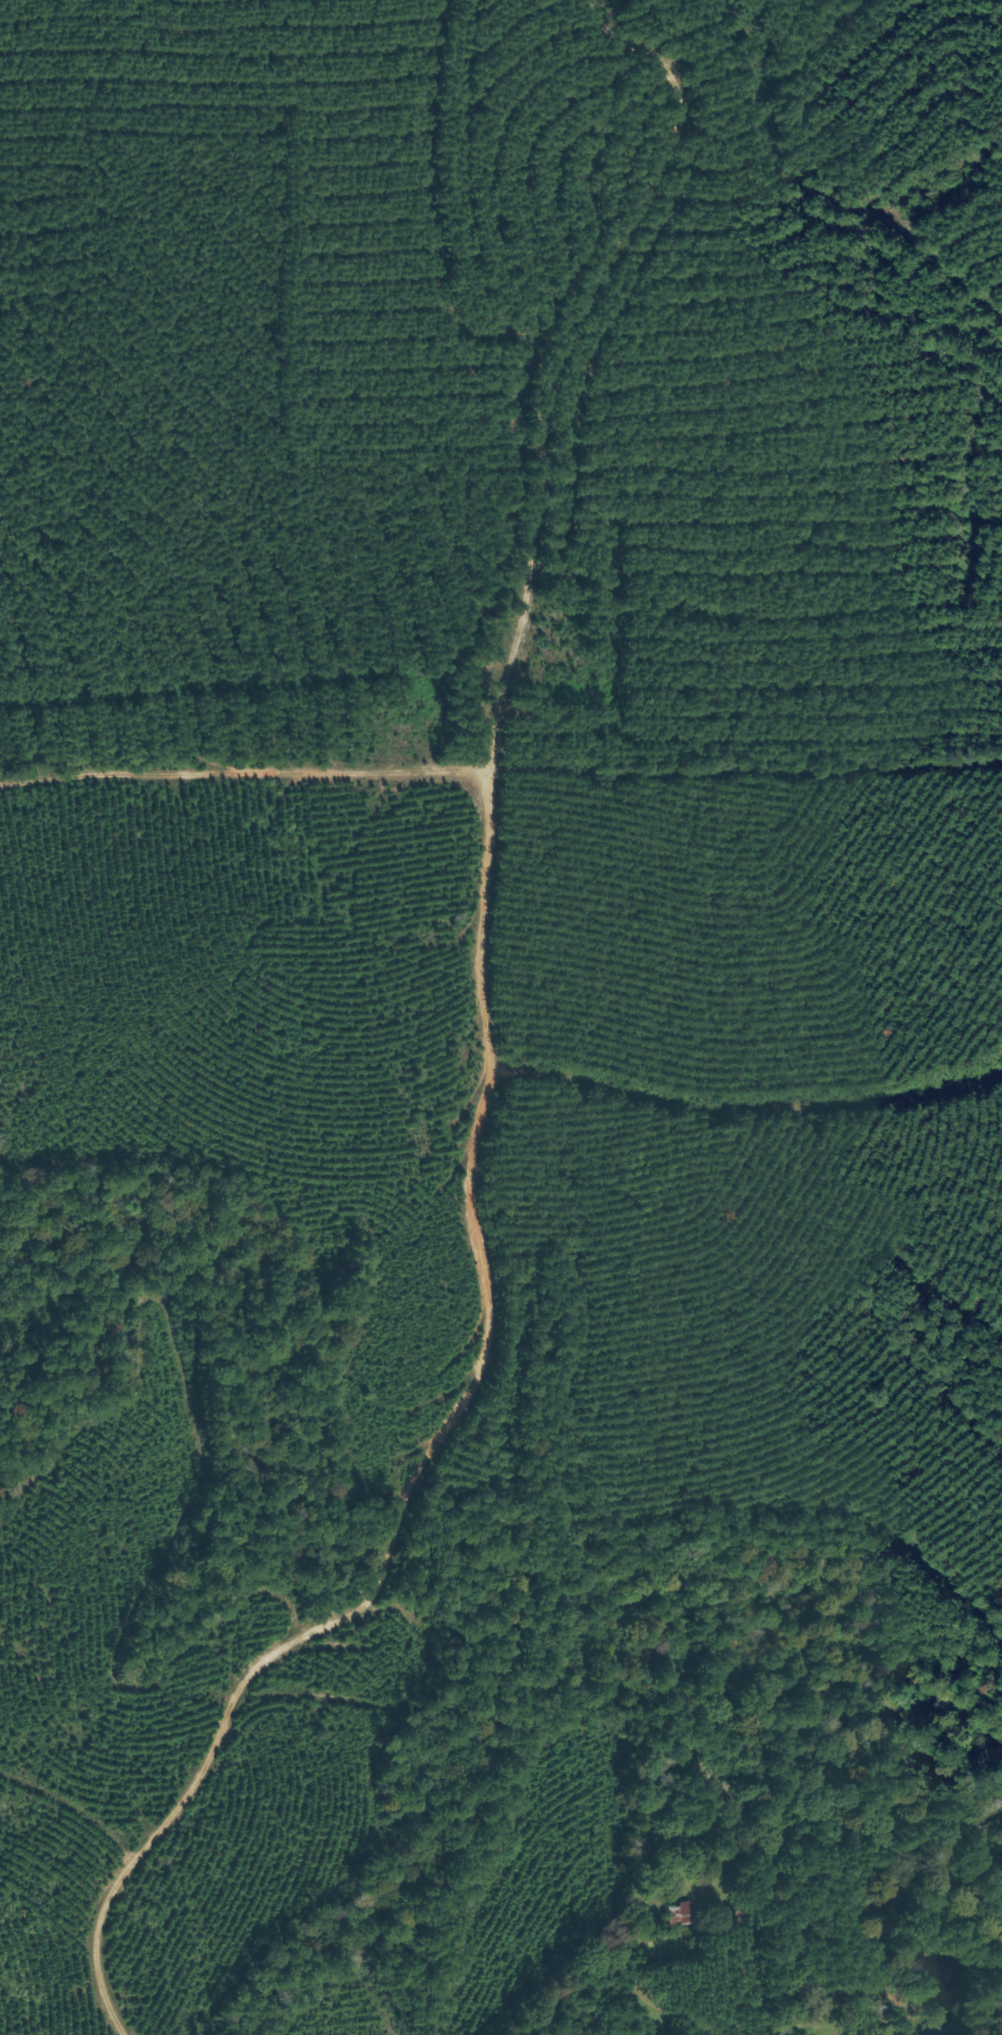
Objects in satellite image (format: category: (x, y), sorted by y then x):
building: (680, 1913)

